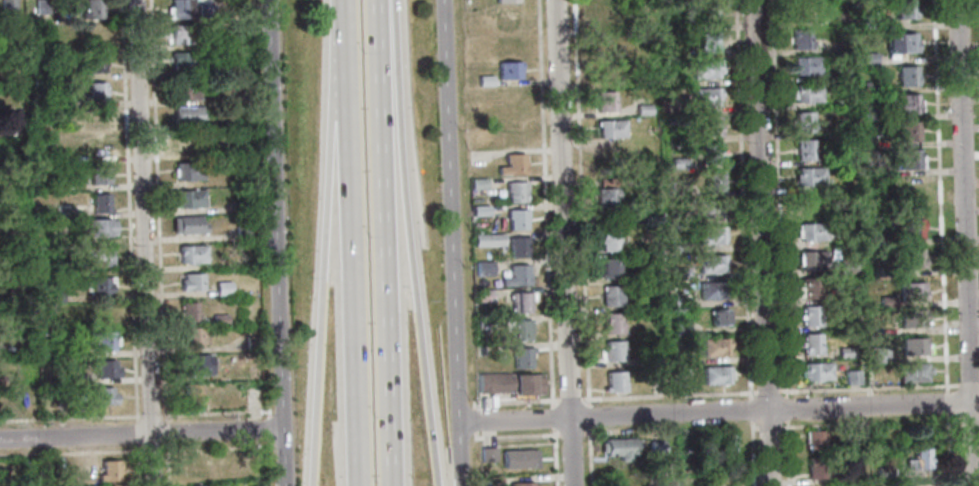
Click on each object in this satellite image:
building: (508, 0)
building: (607, 0)
building: (7, 5)
building: (41, 7)
building: (92, 9)
building: (178, 9)
building: (907, 9)
building: (205, 12)
building: (708, 14)
building: (509, 18)
building: (603, 18)
building: (868, 21)
building: (95, 34)
building: (179, 36)
building: (802, 38)
building: (710, 42)
building: (902, 42)
building: (870, 58)
building: (185, 60)
building: (94, 64)
building: (807, 65)
building: (240, 68)
building: (708, 69)
building: (511, 70)
building: (606, 73)
building: (841, 73)
building: (908, 75)
building: (485, 79)
building: (642, 79)
building: (870, 85)
building: (184, 90)
building: (95, 92)
building: (807, 93)
building: (243, 95)
building: (707, 96)
building: (607, 100)
building: (843, 101)
building: (63, 102)
building: (908, 102)
building: (643, 108)
building: (871, 113)
building: (187, 116)
building: (94, 118)
building: (805, 121)
building: (711, 125)
building: (11, 128)
building: (610, 128)
building: (910, 130)
building: (184, 143)
building: (99, 147)
building: (804, 149)
building: (712, 152)
building: (912, 158)
building: (680, 163)
building: (513, 164)
building: (874, 168)
building: (189, 171)
building: (98, 175)
building: (810, 175)
building: (712, 181)
building: (478, 182)
building: (678, 185)
building: (517, 191)
road: (940, 194)
road: (778, 197)
building: (609, 198)
road: (743, 198)
building: (189, 199)
road: (582, 201)
road: (545, 202)
building: (100, 203)
building: (808, 204)
building: (245, 205)
building: (711, 208)
building: (480, 209)
building: (63, 211)
road: (127, 211)
road: (156, 211)
building: (35, 214)
building: (517, 219)
building: (187, 226)
building: (913, 228)
building: (100, 229)
building: (811, 231)
building: (241, 233)
building: (712, 235)
building: (882, 238)
building: (488, 239)
building: (610, 240)
road: (276, 242)
road: (331, 242)
road: (143, 243)
road: (358, 243)
road: (386, 243)
road: (410, 243)
road: (451, 243)
road: (563, 243)
road: (761, 243)
road: (965, 243)
building: (678, 245)
building: (518, 246)
building: (191, 255)
building: (96, 257)
building: (914, 257)
building: (811, 259)
building: (712, 264)
building: (484, 267)
building: (609, 267)
building: (57, 269)
building: (886, 270)
building: (679, 271)
building: (516, 275)
building: (190, 282)
building: (99, 286)
building: (812, 288)
building: (222, 289)
building: (709, 290)
building: (913, 290)
building: (849, 291)
building: (482, 294)
building: (612, 294)
building: (54, 296)
building: (680, 300)
building: (885, 300)
building: (522, 301)
building: (187, 311)
building: (810, 315)
building: (916, 317)
building: (718, 318)
building: (218, 319)
building: (482, 319)
building: (613, 322)
building: (682, 327)
building: (518, 329)
building: (192, 336)
building: (102, 341)
building: (811, 343)
building: (251, 344)
building: (715, 346)
building: (913, 346)
building: (612, 350)
building: (846, 351)
building: (878, 353)
building: (524, 357)
building: (649, 359)
building: (194, 366)
building: (103, 369)
building: (815, 371)
building: (914, 371)
building: (678, 373)
building: (716, 374)
building: (851, 378)
building: (78, 379)
building: (0, 380)
building: (614, 381)
building: (509, 383)
building: (655, 383)
road: (968, 383)
road: (869, 387)
road: (767, 390)
building: (191, 394)
road: (668, 395)
street lamp: (753, 395)
building: (101, 396)
road: (569, 398)
road: (512, 400)
road: (948, 400)
road: (785, 407)
road: (750, 409)
road: (718, 411)
road: (205, 413)
road: (148, 416)
road: (588, 416)
road: (553, 417)
road: (69, 418)
road: (969, 418)
road: (253, 419)
road: (474, 420)
road: (870, 423)
road: (164, 427)
road: (767, 427)
road: (669, 430)
road: (570, 432)
road: (135, 434)
road: (140, 434)
road: (514, 435)
building: (817, 440)
building: (655, 446)
building: (617, 448)
road: (949, 448)
road: (145, 451)
road: (70, 453)
road: (786, 453)
road: (751, 454)
building: (487, 455)
road: (554, 457)
road: (588, 457)
building: (919, 457)
building: (517, 458)
building: (199, 465)
road: (136, 466)
building: (818, 468)
building: (27, 469)
building: (107, 471)
building: (882, 473)
road: (976, 474)
building: (853, 478)
building: (492, 479)
building: (520, 484)
building: (919, 484)
building: (722, 485)
building: (815, 485)

